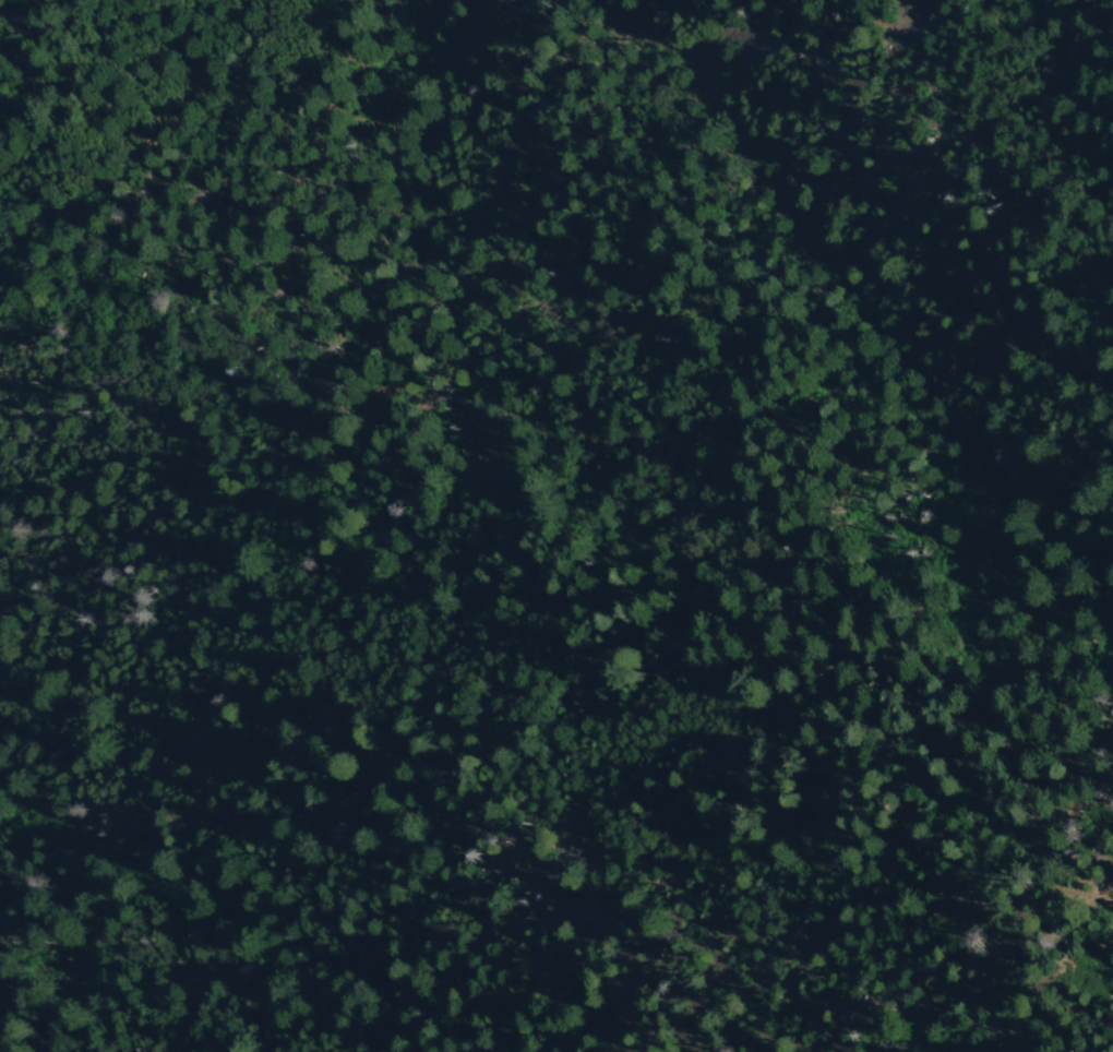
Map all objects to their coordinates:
road: (1089, 874)

